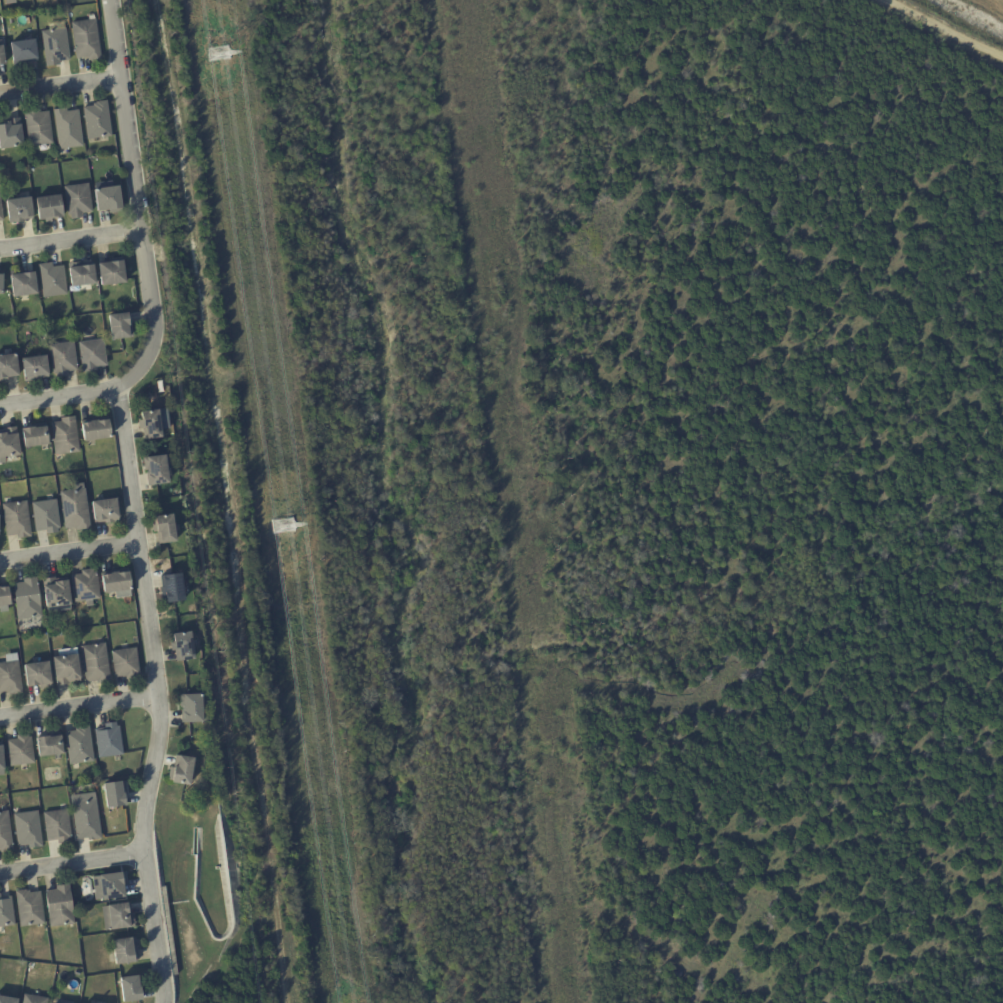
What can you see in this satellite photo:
building: (10, 1)
landfill: (980, 12)
building: (86, 38)
building: (55, 45)
building: (22, 51)
power tower: (223, 52)
building: (1, 54)
road: (60, 86)
building: (97, 119)
building: (38, 127)
building: (67, 128)
building: (10, 134)
building: (108, 199)
building: (78, 200)
building: (48, 207)
building: (19, 208)
building: (1, 212)
road: (70, 240)
road: (145, 259)
building: (111, 272)
building: (80, 274)
building: (52, 279)
building: (1, 283)
building: (22, 283)
building: (120, 325)
building: (92, 354)
building: (62, 358)
building: (7, 366)
building: (33, 367)
building: (150, 423)
building: (95, 429)
building: (34, 434)
building: (65, 435)
building: (9, 442)
building: (156, 470)
building: (75, 507)
building: (105, 510)
building: (45, 516)
building: (18, 519)
power tower: (287, 523)
building: (163, 528)
road: (69, 552)
building: (116, 582)
building: (85, 587)
building: (172, 588)
building: (55, 592)
building: (4, 598)
building: (27, 599)
building: (182, 646)
building: (95, 663)
building: (125, 663)
building: (66, 667)
building: (37, 675)
building: (10, 678)
road: (160, 694)
road: (80, 707)
building: (191, 709)
building: (108, 741)
building: (48, 745)
building: (79, 745)
building: (20, 751)
building: (1, 762)
building: (181, 771)
building: (114, 795)
building: (85, 817)
building: (57, 826)
building: (28, 829)
building: (5, 833)
road: (72, 863)
building: (109, 887)
road: (177, 901)
building: (59, 907)
building: (29, 908)
building: (6, 912)
building: (117, 917)
building: (3, 944)
building: (124, 951)
building: (130, 989)
building: (7, 1000)
building: (34, 1000)

